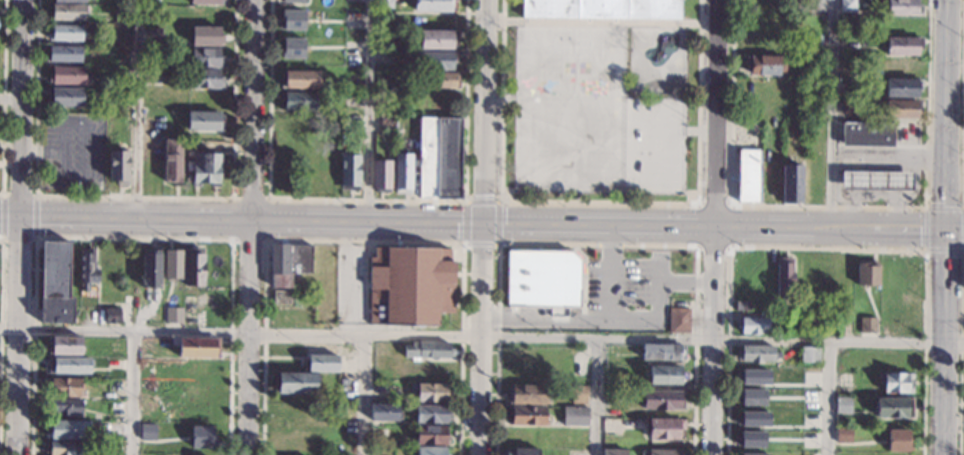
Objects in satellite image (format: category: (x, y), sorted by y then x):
building: (295, 0)
building: (70, 1)
building: (207, 2)
building: (384, 4)
building: (432, 5)
building: (847, 5)
building: (903, 7)
building: (601, 9)
building: (68, 12)
building: (295, 18)
road: (600, 21)
building: (65, 33)
building: (206, 37)
building: (437, 39)
building: (902, 46)
building: (294, 47)
building: (63, 54)
building: (206, 58)
building: (433, 60)
building: (765, 65)
building: (67, 75)
building: (205, 79)
building: (300, 79)
building: (440, 80)
building: (901, 88)
building: (117, 96)
road: (4, 98)
building: (65, 98)
road: (8, 101)
building: (297, 101)
road: (137, 107)
building: (849, 107)
road: (370, 109)
building: (901, 109)
road: (713, 111)
road: (833, 112)
building: (205, 121)
building: (386, 121)
road: (87, 128)
road: (692, 129)
road: (963, 137)
building: (869, 138)
building: (438, 158)
road: (868, 159)
building: (172, 161)
building: (118, 166)
building: (205, 168)
building: (402, 171)
building: (349, 172)
building: (380, 175)
building: (748, 176)
building: (876, 181)
gas station: (876, 181)
building: (791, 183)
road: (505, 188)
road: (904, 190)
road: (19, 195)
road: (135, 196)
road: (268, 198)
road: (367, 199)
road: (498, 202)
road: (598, 202)
road: (730, 204)
road: (829, 205)
road: (963, 208)
road: (3, 214)
road: (35, 215)
road: (355, 219)
traffic signals: (483, 222)
road: (837, 225)
road: (16, 227)
road: (250, 227)
road: (482, 227)
road: (945, 227)
traffic signals: (945, 229)
road: (1, 234)
road: (18, 236)
road: (131, 238)
road: (363, 242)
road: (596, 245)
road: (825, 248)
building: (288, 263)
building: (171, 267)
building: (150, 268)
building: (86, 269)
building: (193, 269)
building: (54, 270)
road: (609, 271)
building: (867, 273)
road: (348, 276)
building: (542, 278)
building: (784, 278)
road: (686, 282)
building: (410, 286)
building: (280, 297)
building: (742, 306)
road: (1, 308)
road: (656, 311)
building: (174, 314)
building: (86, 315)
building: (112, 316)
building: (678, 320)
road: (546, 321)
building: (867, 325)
building: (754, 326)
road: (481, 336)
road: (712, 338)
building: (64, 346)
building: (196, 348)
building: (427, 350)
building: (662, 352)
road: (962, 352)
building: (755, 354)
building: (810, 354)
building: (320, 364)
building: (68, 365)
building: (667, 375)
building: (754, 376)
building: (294, 383)
building: (896, 383)
building: (65, 388)
road: (132, 392)
building: (430, 393)
building: (526, 394)
building: (578, 394)
road: (363, 395)
road: (597, 396)
building: (751, 396)
road: (829, 398)
building: (662, 400)
building: (843, 406)
building: (64, 407)
building: (894, 408)
building: (383, 412)
building: (431, 414)
building: (526, 416)
building: (574, 417)
building: (753, 418)
building: (664, 429)
building: (69, 430)
building: (148, 432)
building: (844, 434)
building: (431, 435)
building: (201, 437)
building: (750, 438)
building: (899, 441)
building: (67, 448)
building: (430, 451)
building: (523, 451)
building: (613, 452)
building: (659, 452)
building: (752, 454)

